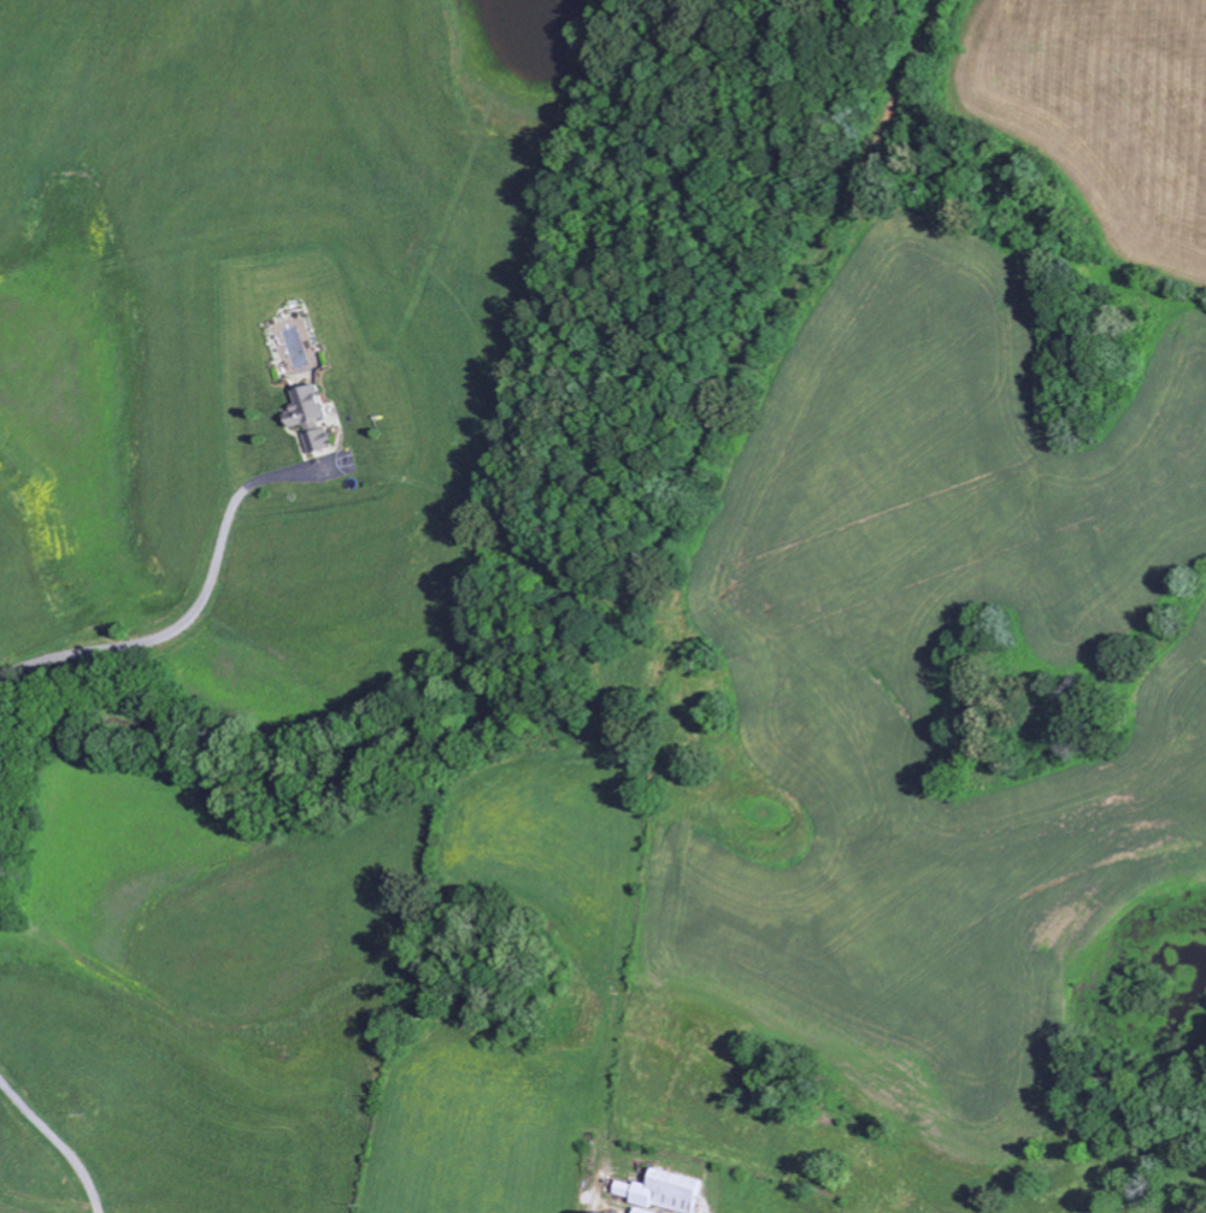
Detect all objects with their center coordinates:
building: (312, 408)
building: (323, 440)
road: (195, 608)
road: (59, 1138)
building: (667, 1190)
building: (649, 1211)

